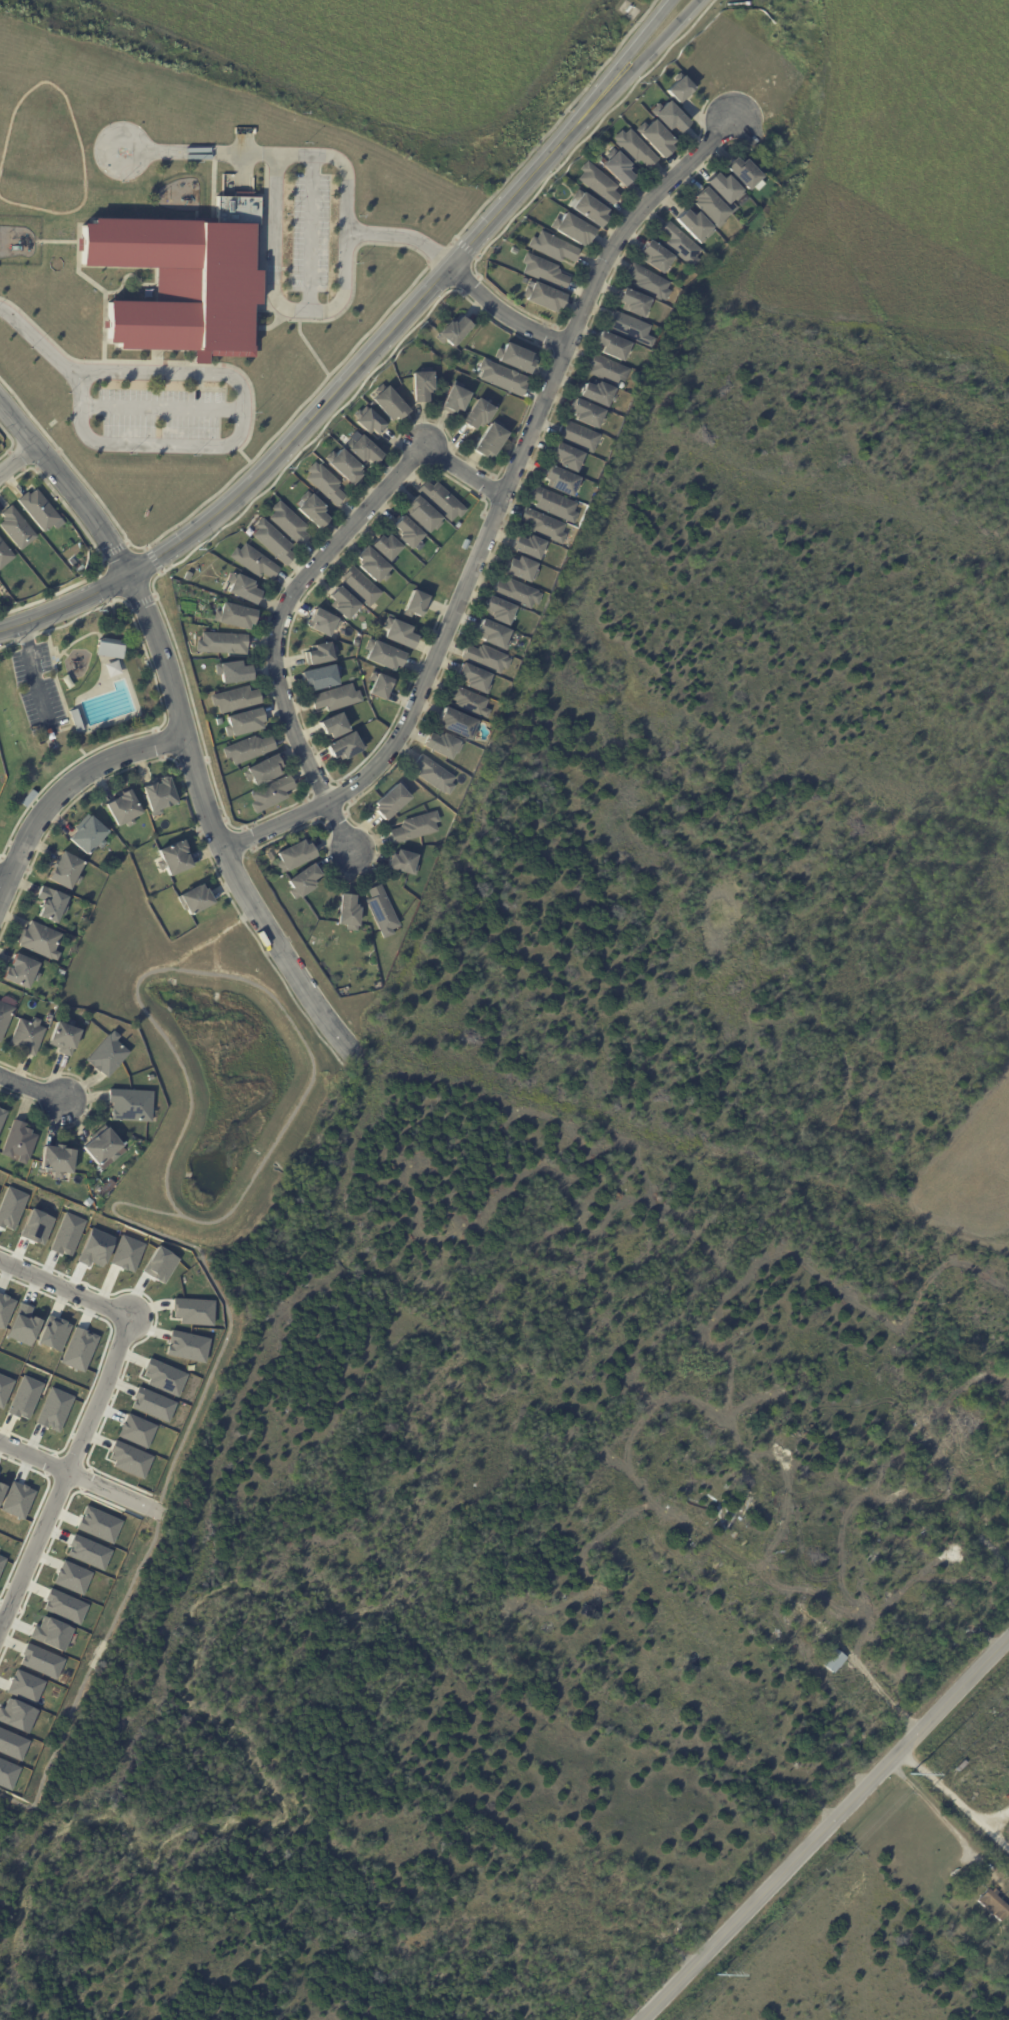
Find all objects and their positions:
park: (378, 55)
building: (680, 88)
building: (673, 117)
building: (658, 138)
building: (636, 149)
road: (267, 153)
building: (620, 167)
building: (741, 173)
building: (600, 183)
building: (721, 187)
building: (707, 207)
building: (734, 207)
building: (590, 208)
building: (690, 224)
building: (576, 230)
parking lot: (309, 231)
road: (311, 232)
road: (401, 235)
building: (677, 244)
building: (550, 246)
building: (653, 256)
building: (546, 272)
building: (646, 282)
building: (183, 284)
road: (277, 296)
building: (546, 297)
building: (629, 301)
road: (502, 312)
building: (628, 327)
building: (454, 331)
road: (36, 338)
building: (608, 345)
road: (370, 352)
building: (517, 358)
building: (607, 371)
building: (505, 378)
building: (423, 385)
building: (597, 392)
building: (457, 398)
building: (391, 403)
road: (162, 406)
parking lot: (161, 413)
building: (588, 413)
building: (479, 414)
building: (368, 420)
road: (238, 437)
building: (580, 437)
building: (491, 441)
building: (366, 449)
building: (567, 456)
road: (17, 460)
building: (346, 465)
building: (560, 479)
building: (326, 484)
building: (443, 501)
building: (555, 504)
building: (39, 510)
building: (314, 510)
road: (499, 510)
building: (424, 515)
building: (290, 524)
building: (459, 526)
building: (546, 526)
building: (17, 529)
building: (249, 532)
building: (407, 533)
building: (275, 542)
building: (465, 545)
building: (529, 546)
building: (388, 547)
building: (5, 555)
building: (255, 562)
building: (374, 565)
building: (522, 569)
building: (244, 587)
road: (297, 587)
building: (361, 587)
building: (518, 593)
building: (344, 603)
building: (416, 604)
building: (499, 610)
building: (236, 617)
building: (189, 619)
building: (323, 624)
building: (196, 627)
building: (400, 633)
building: (494, 634)
building: (523, 638)
building: (356, 643)
building: (224, 644)
building: (112, 649)
building: (384, 654)
building: (323, 655)
building: (359, 657)
building: (488, 659)
building: (114, 670)
road: (31, 673)
building: (234, 673)
building: (475, 677)
building: (321, 679)
building: (380, 684)
building: (505, 687)
parking lot: (37, 688)
building: (337, 699)
park: (69, 700)
building: (237, 700)
building: (471, 703)
building: (77, 721)
building: (220, 722)
building: (454, 722)
building: (246, 724)
building: (335, 726)
road: (180, 728)
building: (444, 745)
building: (346, 748)
building: (250, 750)
building: (265, 770)
building: (436, 776)
road: (66, 789)
building: (273, 795)
building: (161, 796)
building: (30, 799)
building: (393, 801)
building: (125, 808)
building: (417, 828)
building: (89, 835)
building: (296, 856)
building: (175, 859)
building: (404, 864)
building: (66, 870)
road: (4, 878)
building: (304, 882)
building: (197, 898)
building: (52, 904)
building: (382, 912)
building: (350, 913)
building: (41, 940)
building: (24, 971)
building: (61, 972)
building: (19, 995)
building: (5, 1018)
building: (28, 1035)
building: (65, 1036)
building: (109, 1055)
road: (33, 1088)
building: (133, 1105)
building: (3, 1119)
building: (20, 1142)
building: (103, 1146)
building: (58, 1160)
building: (106, 1190)
building: (11, 1206)
building: (36, 1226)
building: (67, 1234)
building: (96, 1247)
building: (127, 1252)
building: (160, 1264)
road: (64, 1289)
building: (5, 1309)
building: (194, 1311)
building: (23, 1325)
building: (53, 1333)
building: (187, 1346)
building: (79, 1349)
building: (164, 1377)
building: (4, 1388)
building: (24, 1397)
building: (153, 1404)
building: (54, 1409)
building: (136, 1430)
building: (129, 1458)
road: (67, 1469)
road: (78, 1476)
building: (2, 1489)
building: (17, 1499)
building: (99, 1524)
building: (88, 1552)
building: (2, 1561)
building: (72, 1577)
building: (65, 1606)
building: (51, 1633)
building: (40, 1661)
building: (834, 1662)
building: (24, 1686)
building: (16, 1715)
building: (11, 1744)
building: (7, 1774)
road: (936, 1781)
road: (992, 1812)
road: (945, 1820)
road: (822, 1824)
road: (992, 1828)
building: (993, 1904)

